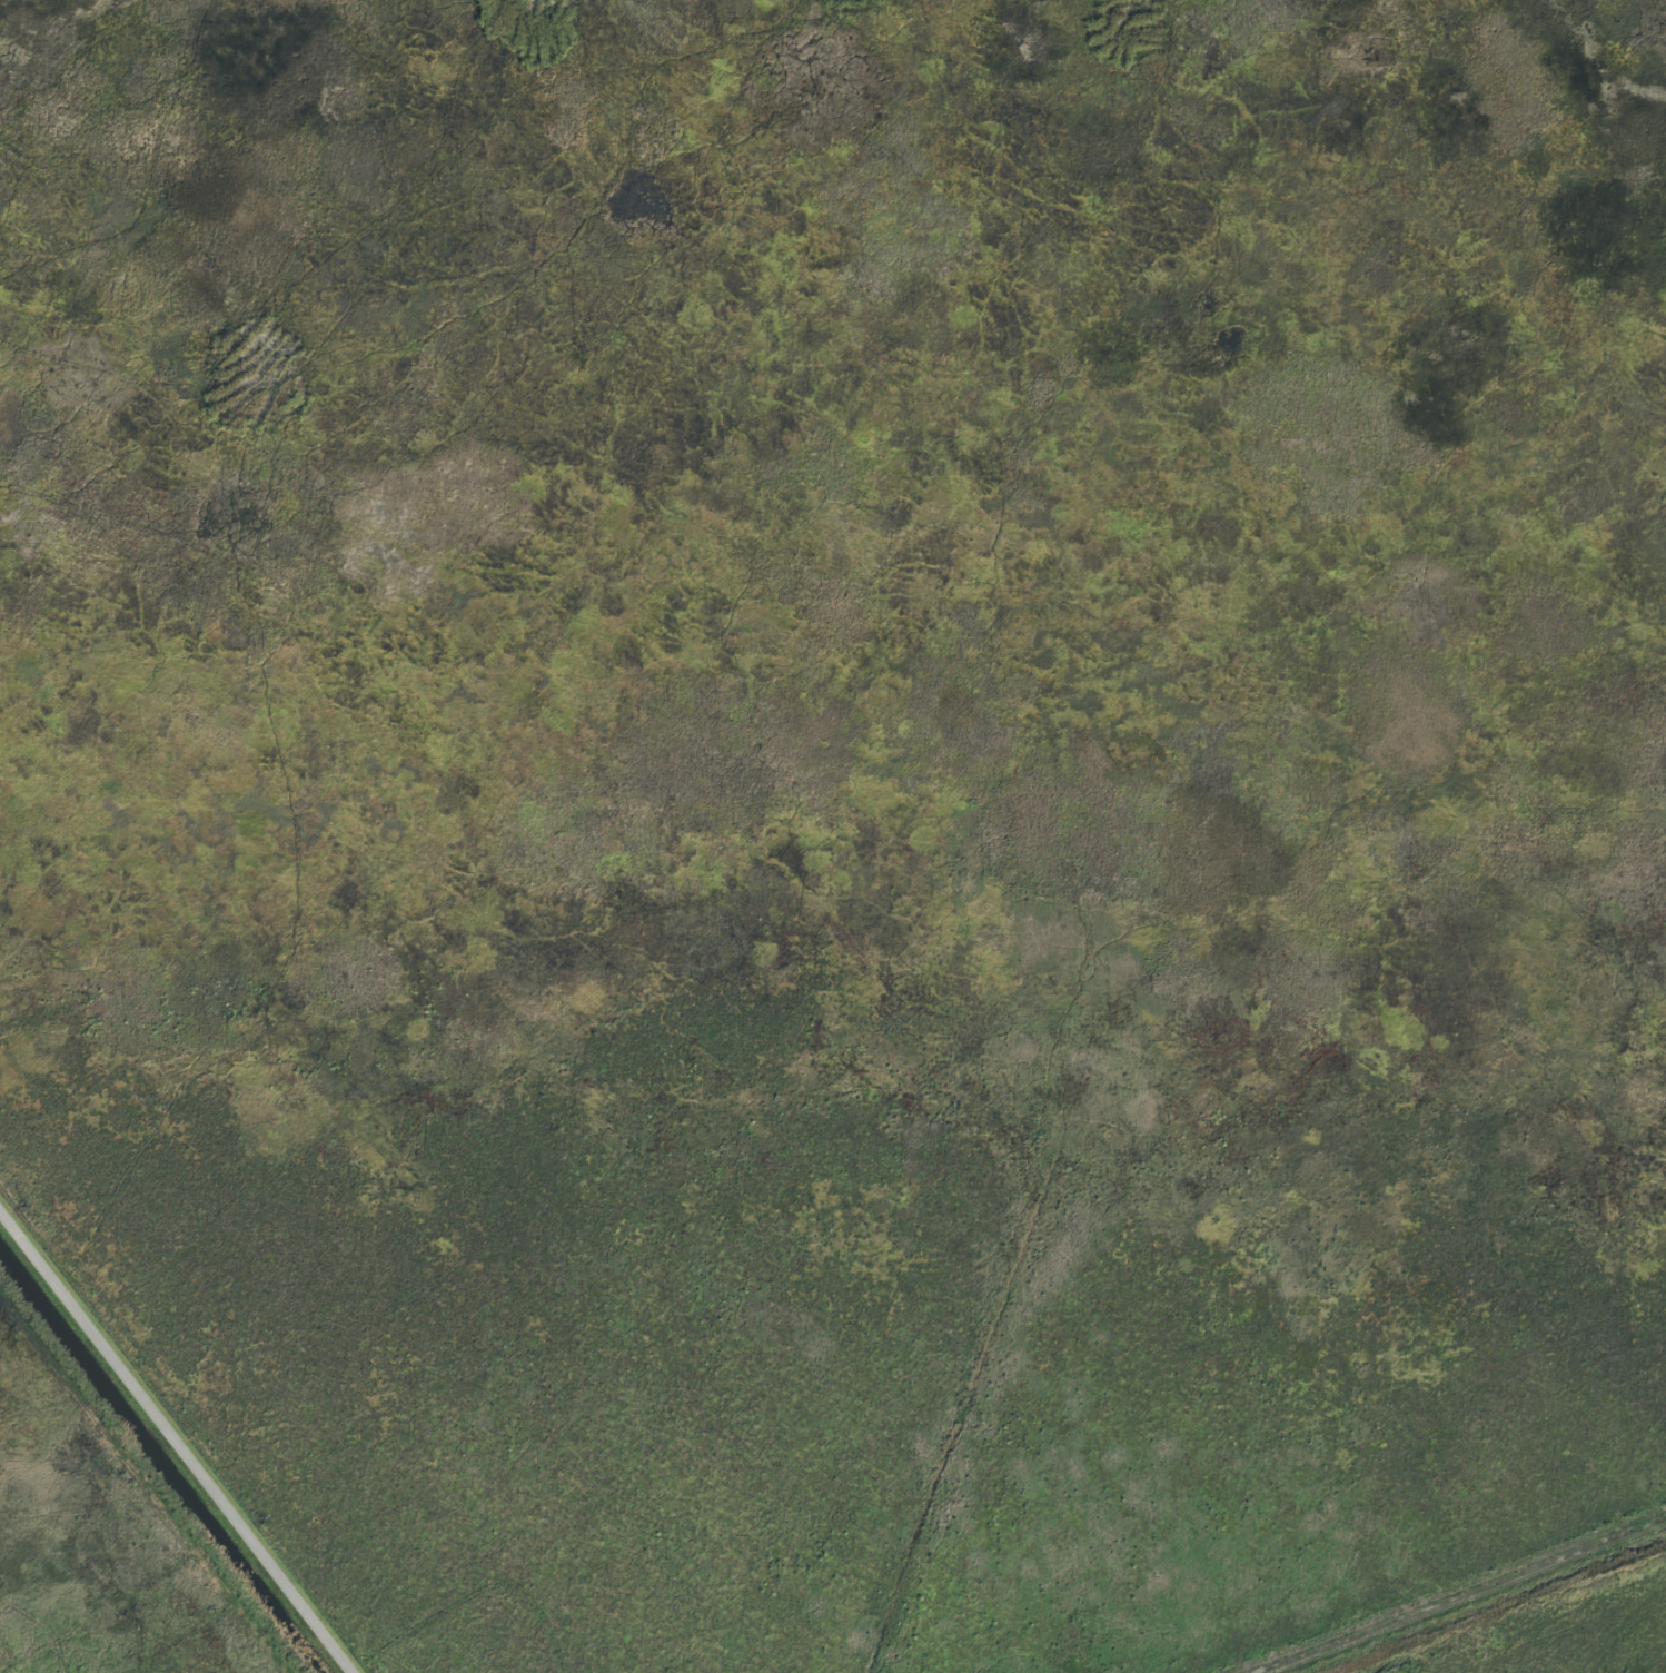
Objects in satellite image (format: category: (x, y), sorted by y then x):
road: (175, 1438)

